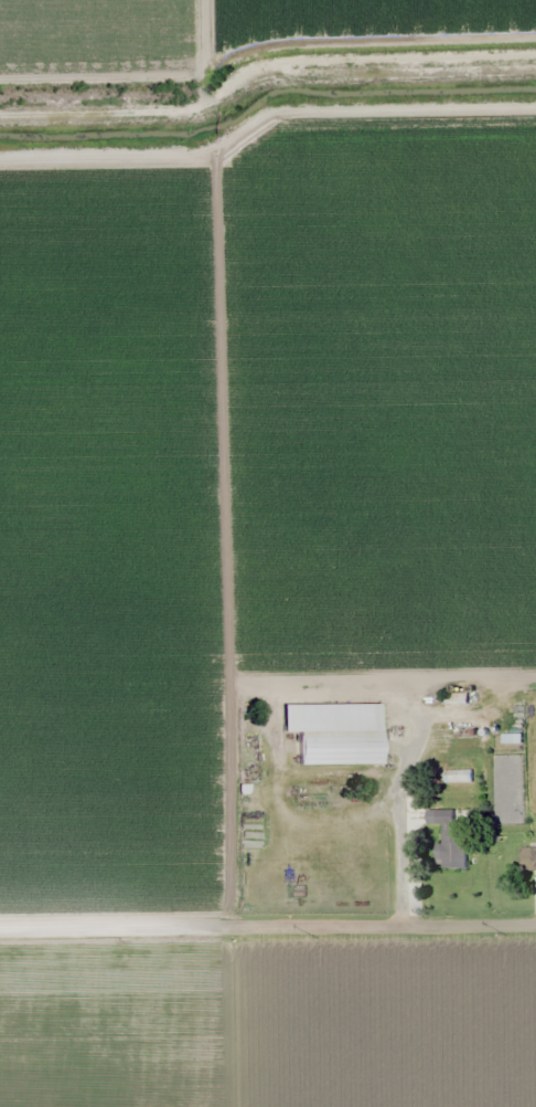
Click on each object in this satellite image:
building: (333, 732)
building: (447, 840)
building: (527, 858)
road: (268, 917)

